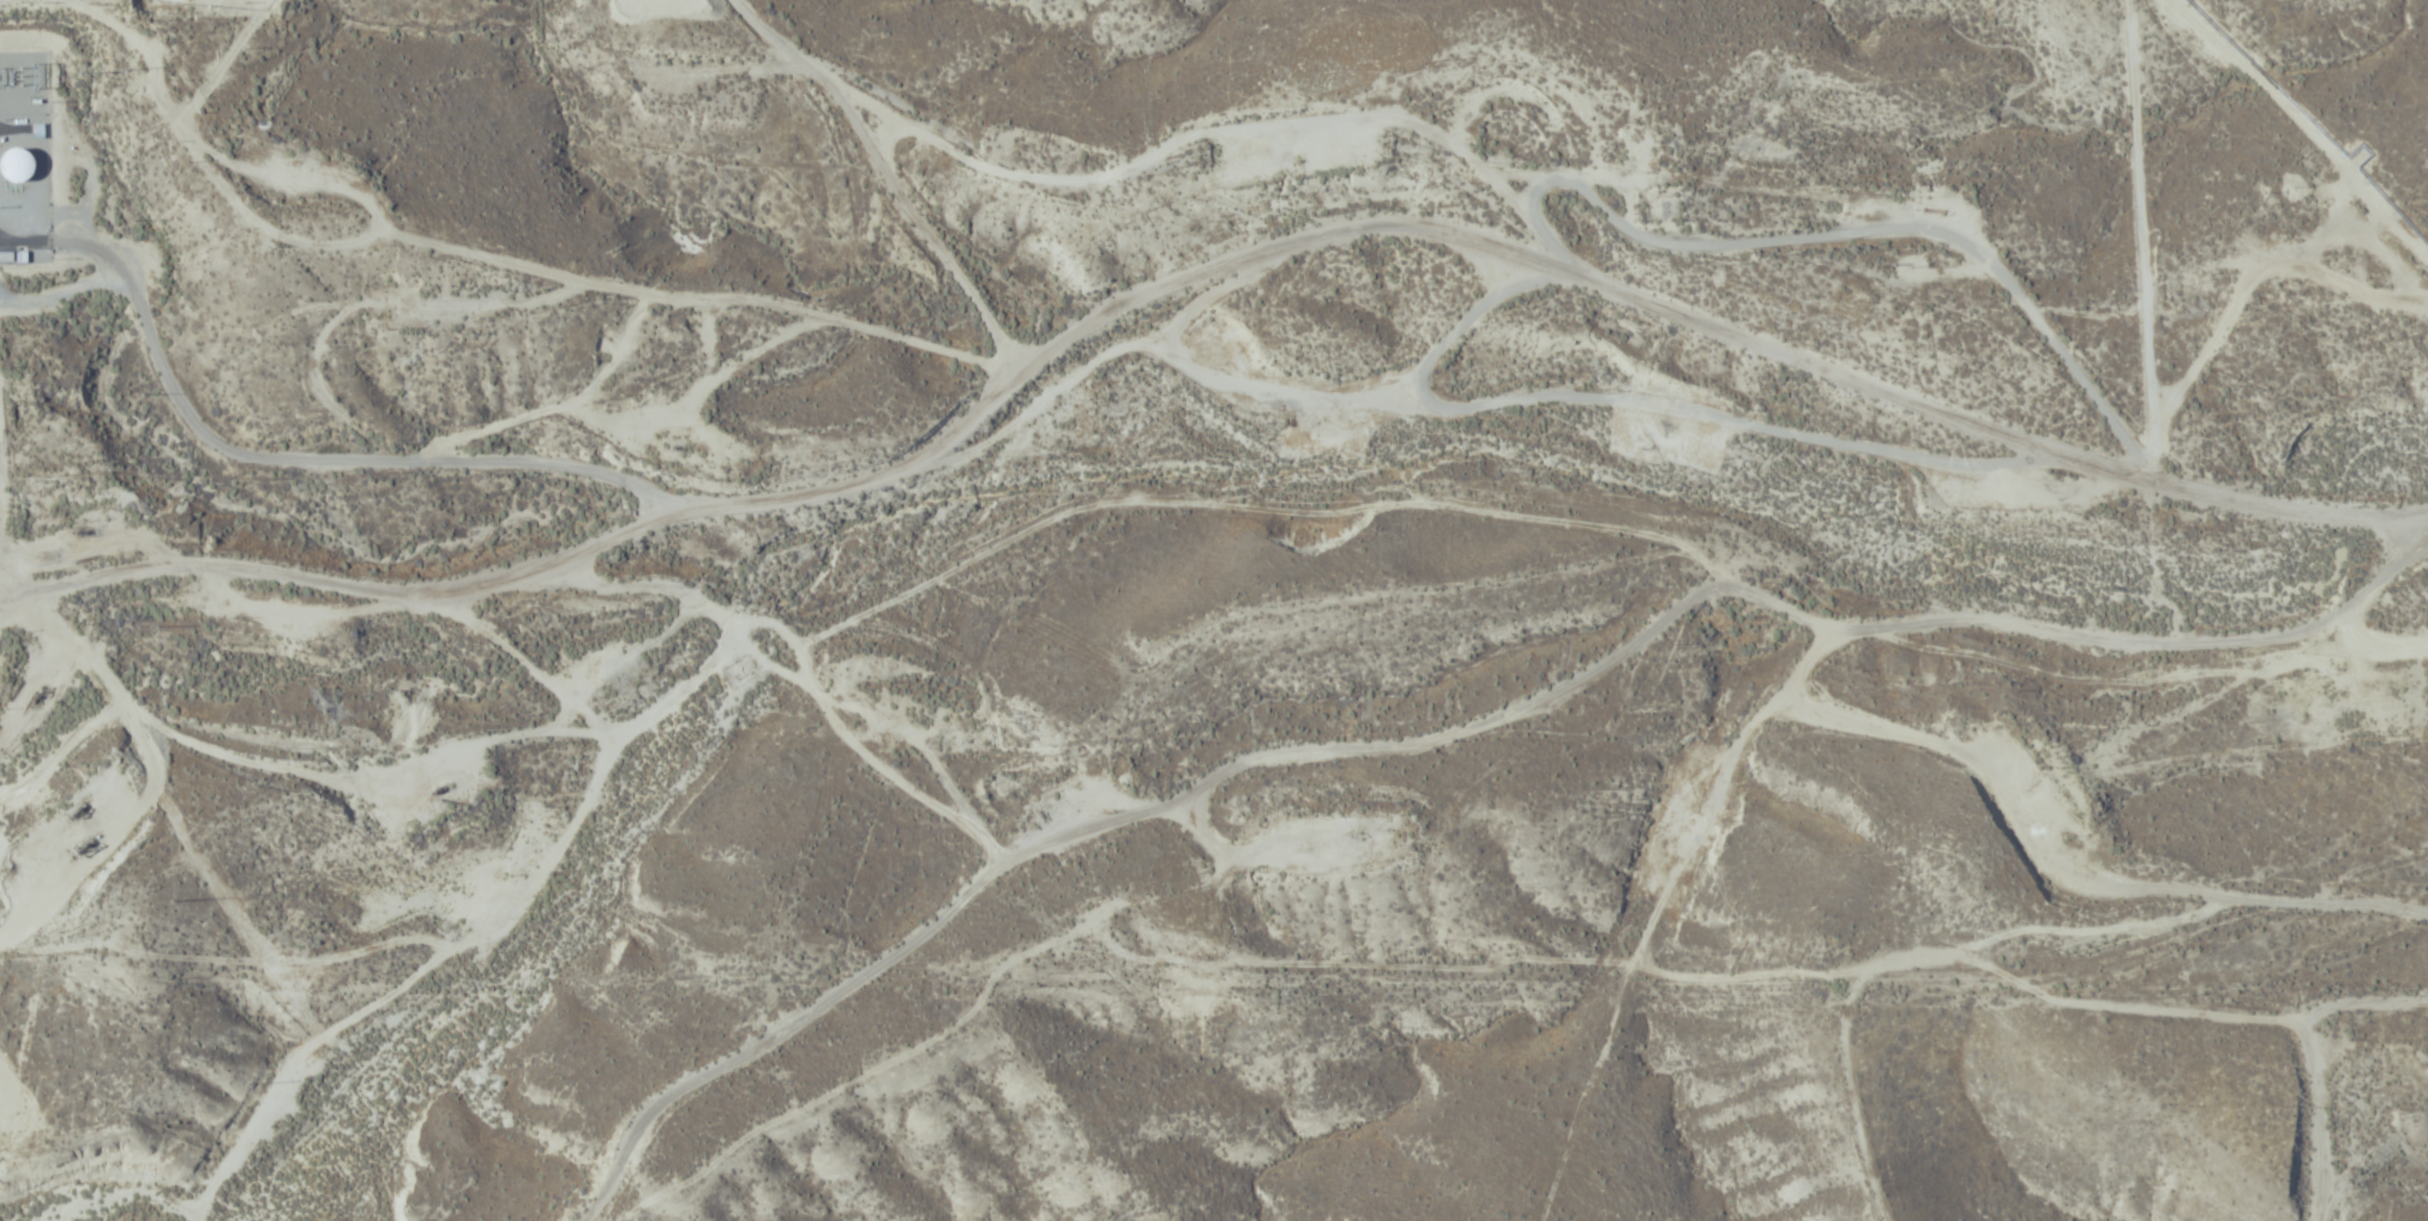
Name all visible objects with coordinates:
building: (19, 164)
road: (893, 175)
road: (1198, 271)
road: (1, 582)

